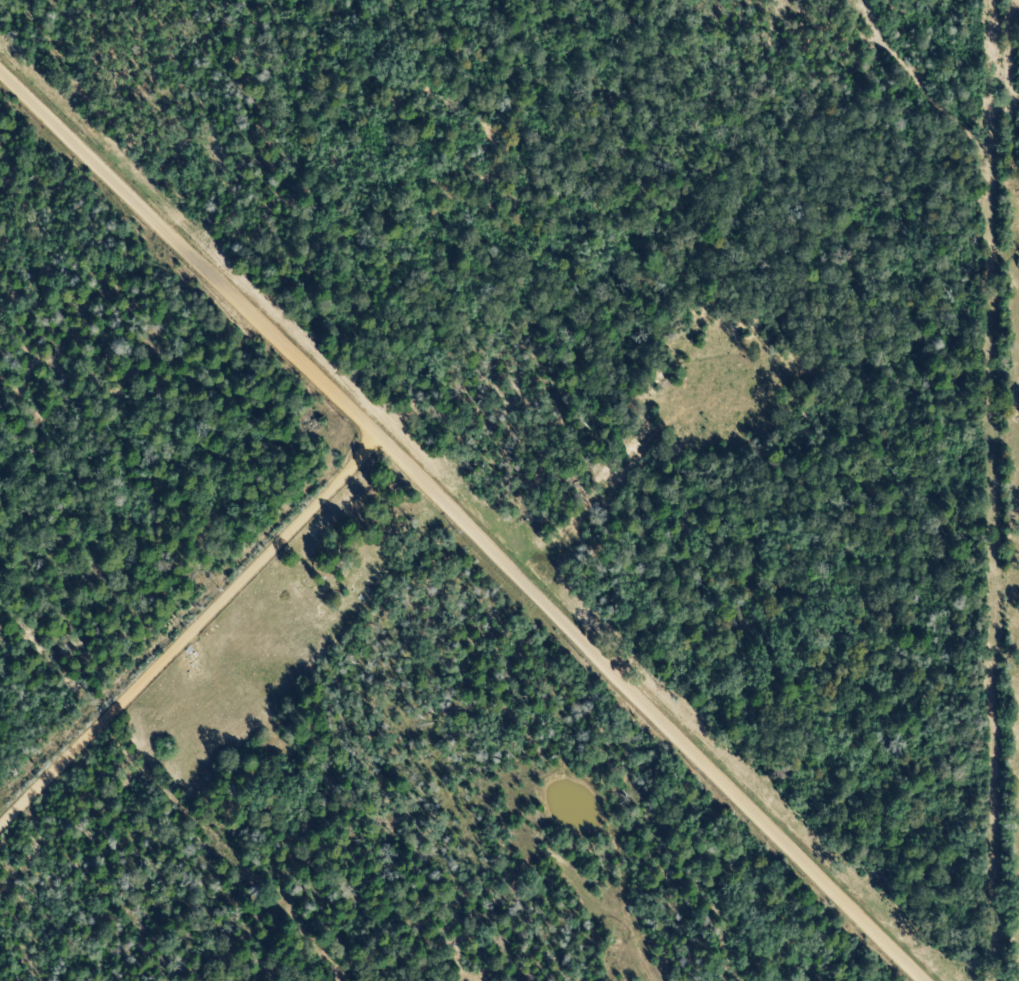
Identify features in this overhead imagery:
road: (194, 248)
road: (310, 517)
road: (658, 710)
road: (116, 715)

